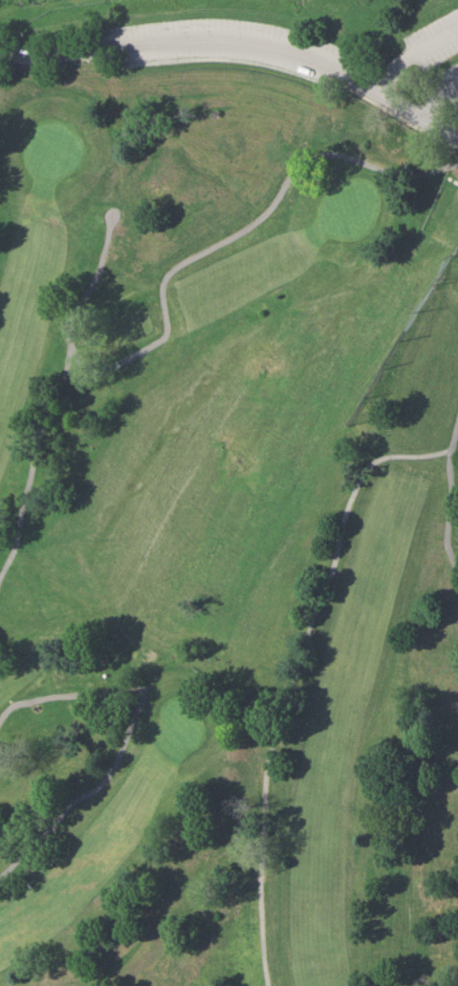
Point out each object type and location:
road: (219, 39)
parking lot: (435, 40)
parking lot: (223, 45)
park: (21, 48)
road: (411, 52)
parking lot: (451, 79)
road: (437, 96)
road: (440, 126)
park: (47, 152)
park: (345, 208)
road: (173, 268)
road: (26, 470)
park: (231, 497)
road: (451, 506)
road: (293, 665)
park: (181, 723)
road: (129, 731)

